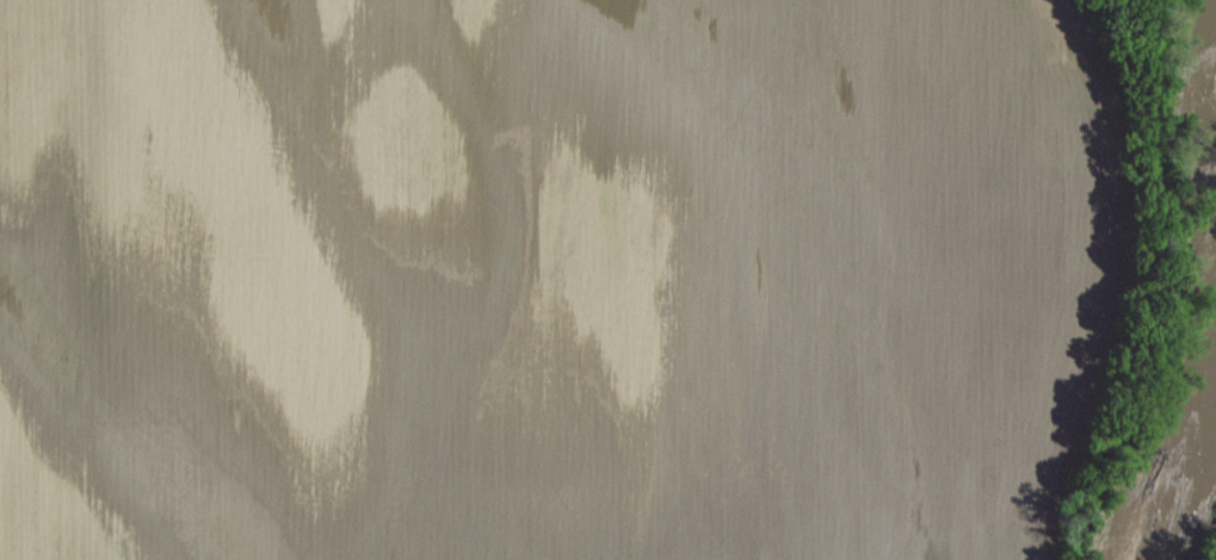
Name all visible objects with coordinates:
river: (1210, 24)
river: (1192, 423)

